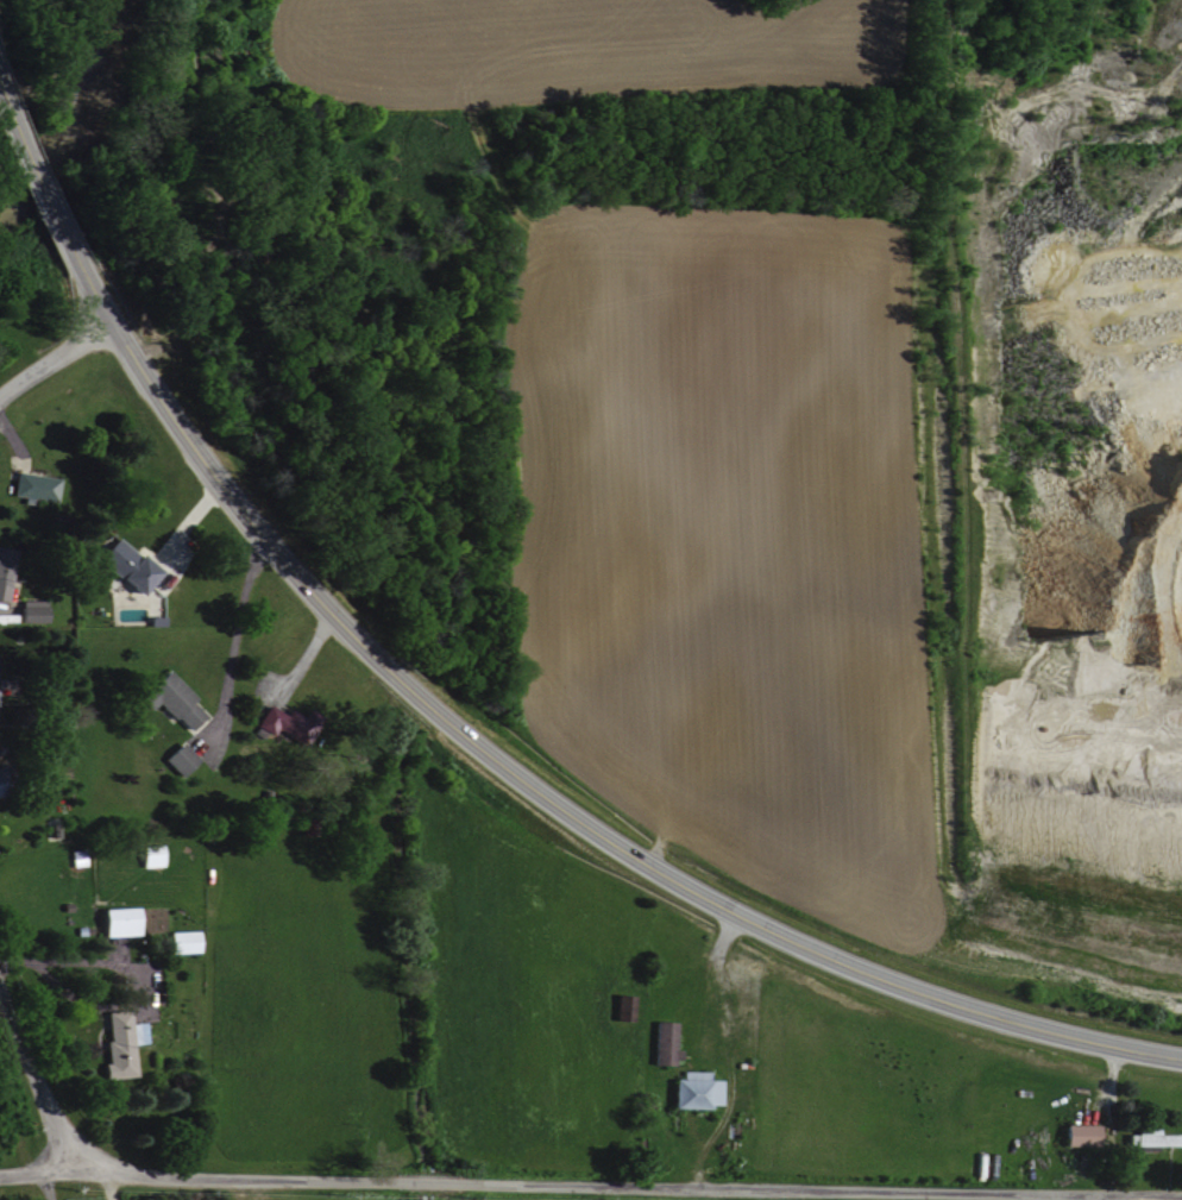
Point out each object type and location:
road: (54, 362)
building: (30, 486)
building: (2, 564)
building: (120, 564)
building: (26, 609)
building: (169, 698)
building: (285, 723)
road: (461, 737)
building: (176, 759)
building: (114, 921)
building: (178, 941)
building: (618, 1007)
building: (117, 1042)
building: (660, 1042)
road: (722, 1053)
road: (58, 1067)
road: (34, 1092)
building: (691, 1092)
road: (1107, 1119)
building: (1074, 1135)
building: (1136, 1137)
road: (590, 1187)
road: (67, 1189)
road: (106, 1190)

